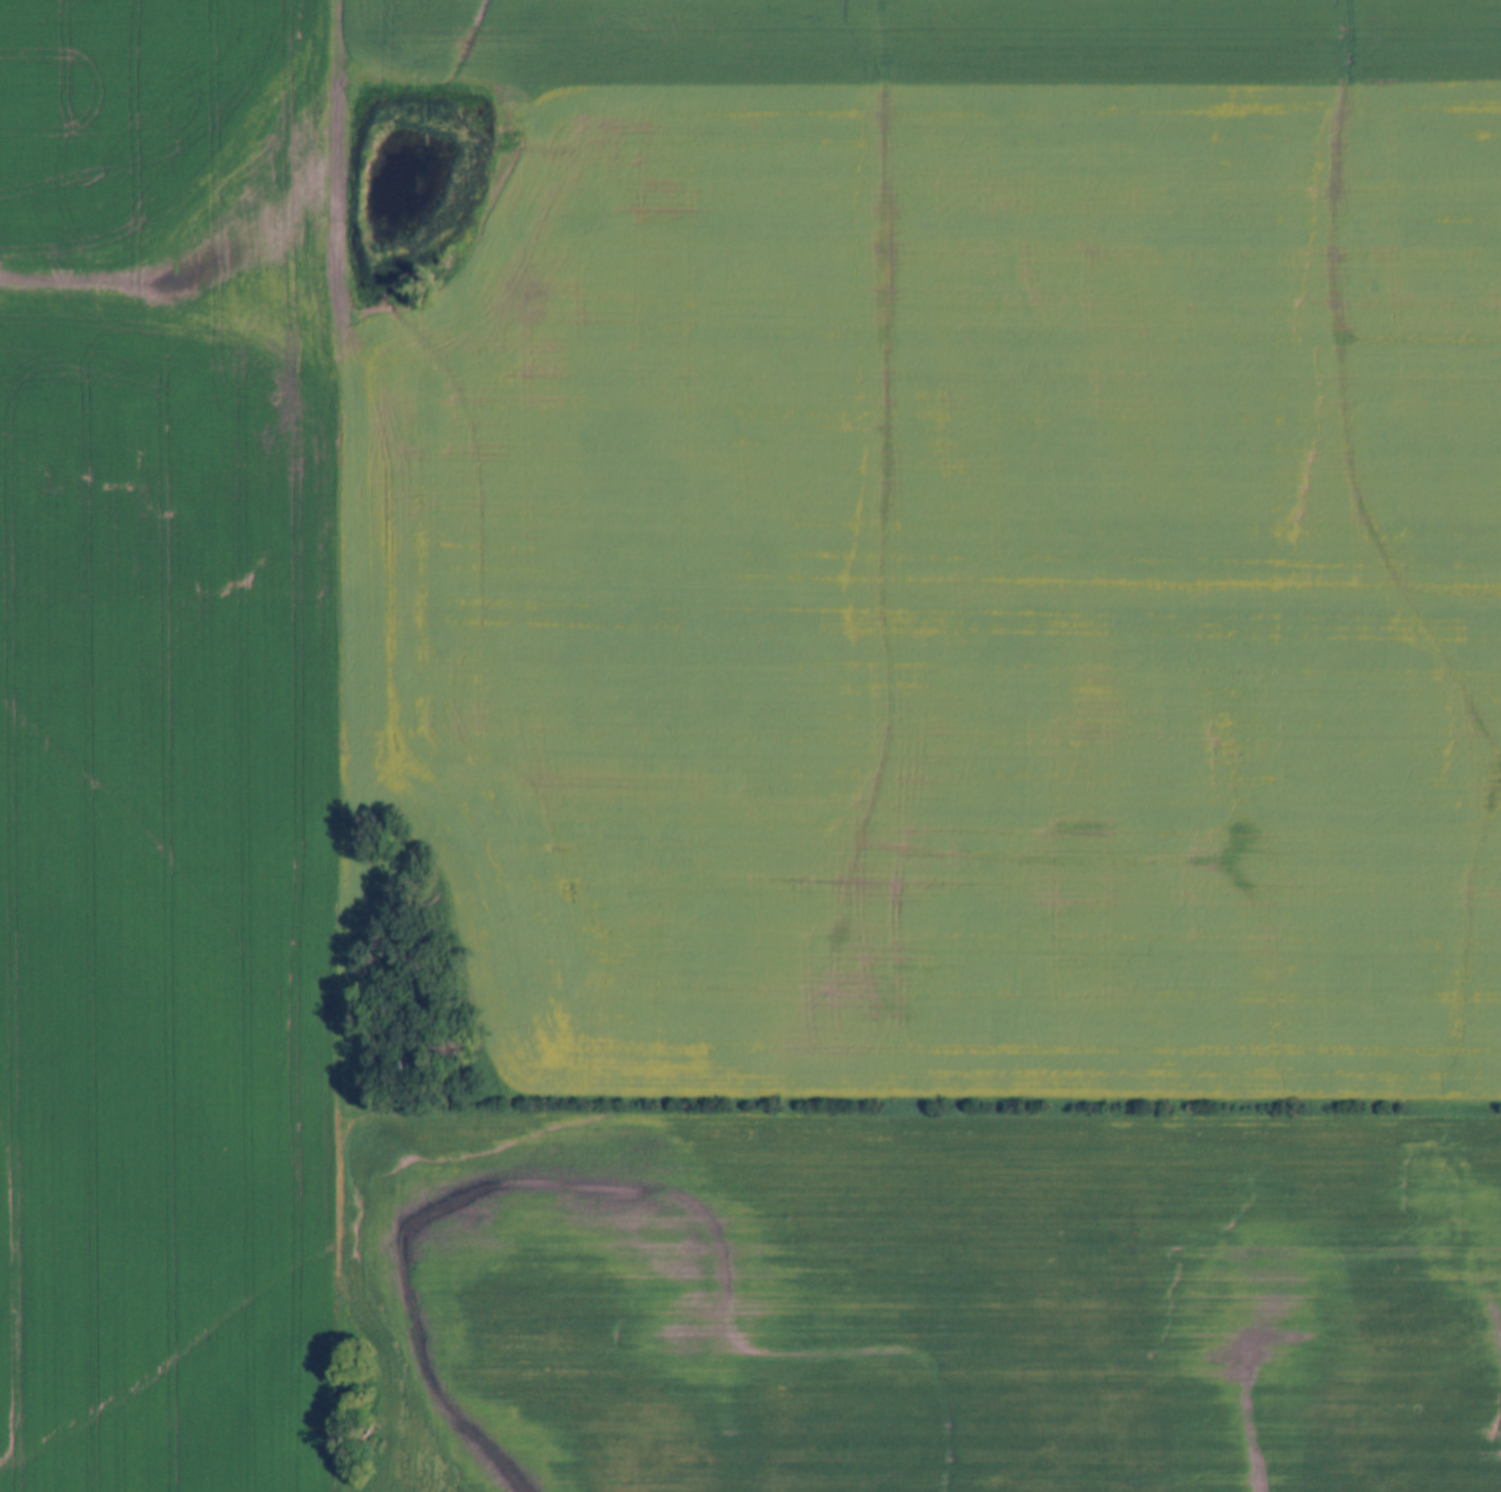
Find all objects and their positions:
road: (198, 112)

